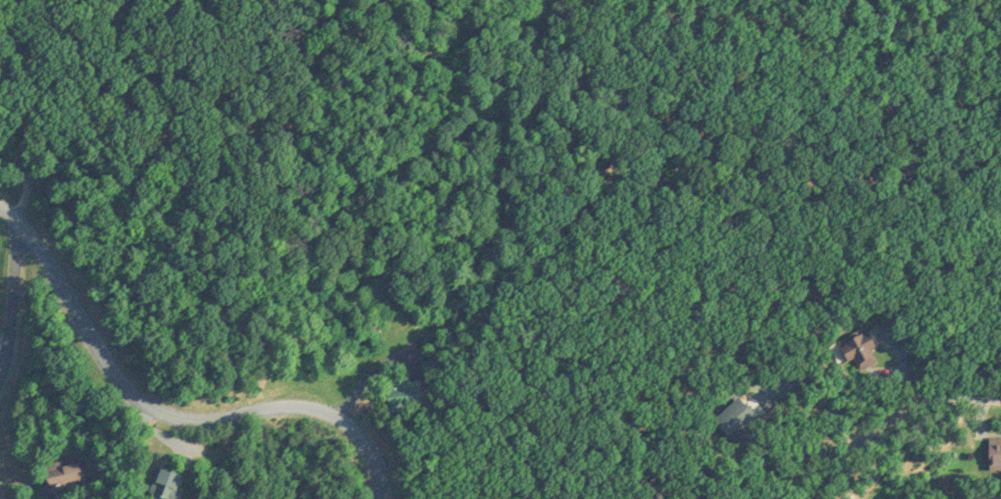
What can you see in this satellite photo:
road: (8, 302)
road: (1, 361)
road: (818, 395)
road: (920, 404)
road: (170, 416)
building: (995, 450)
building: (65, 472)
building: (168, 482)

